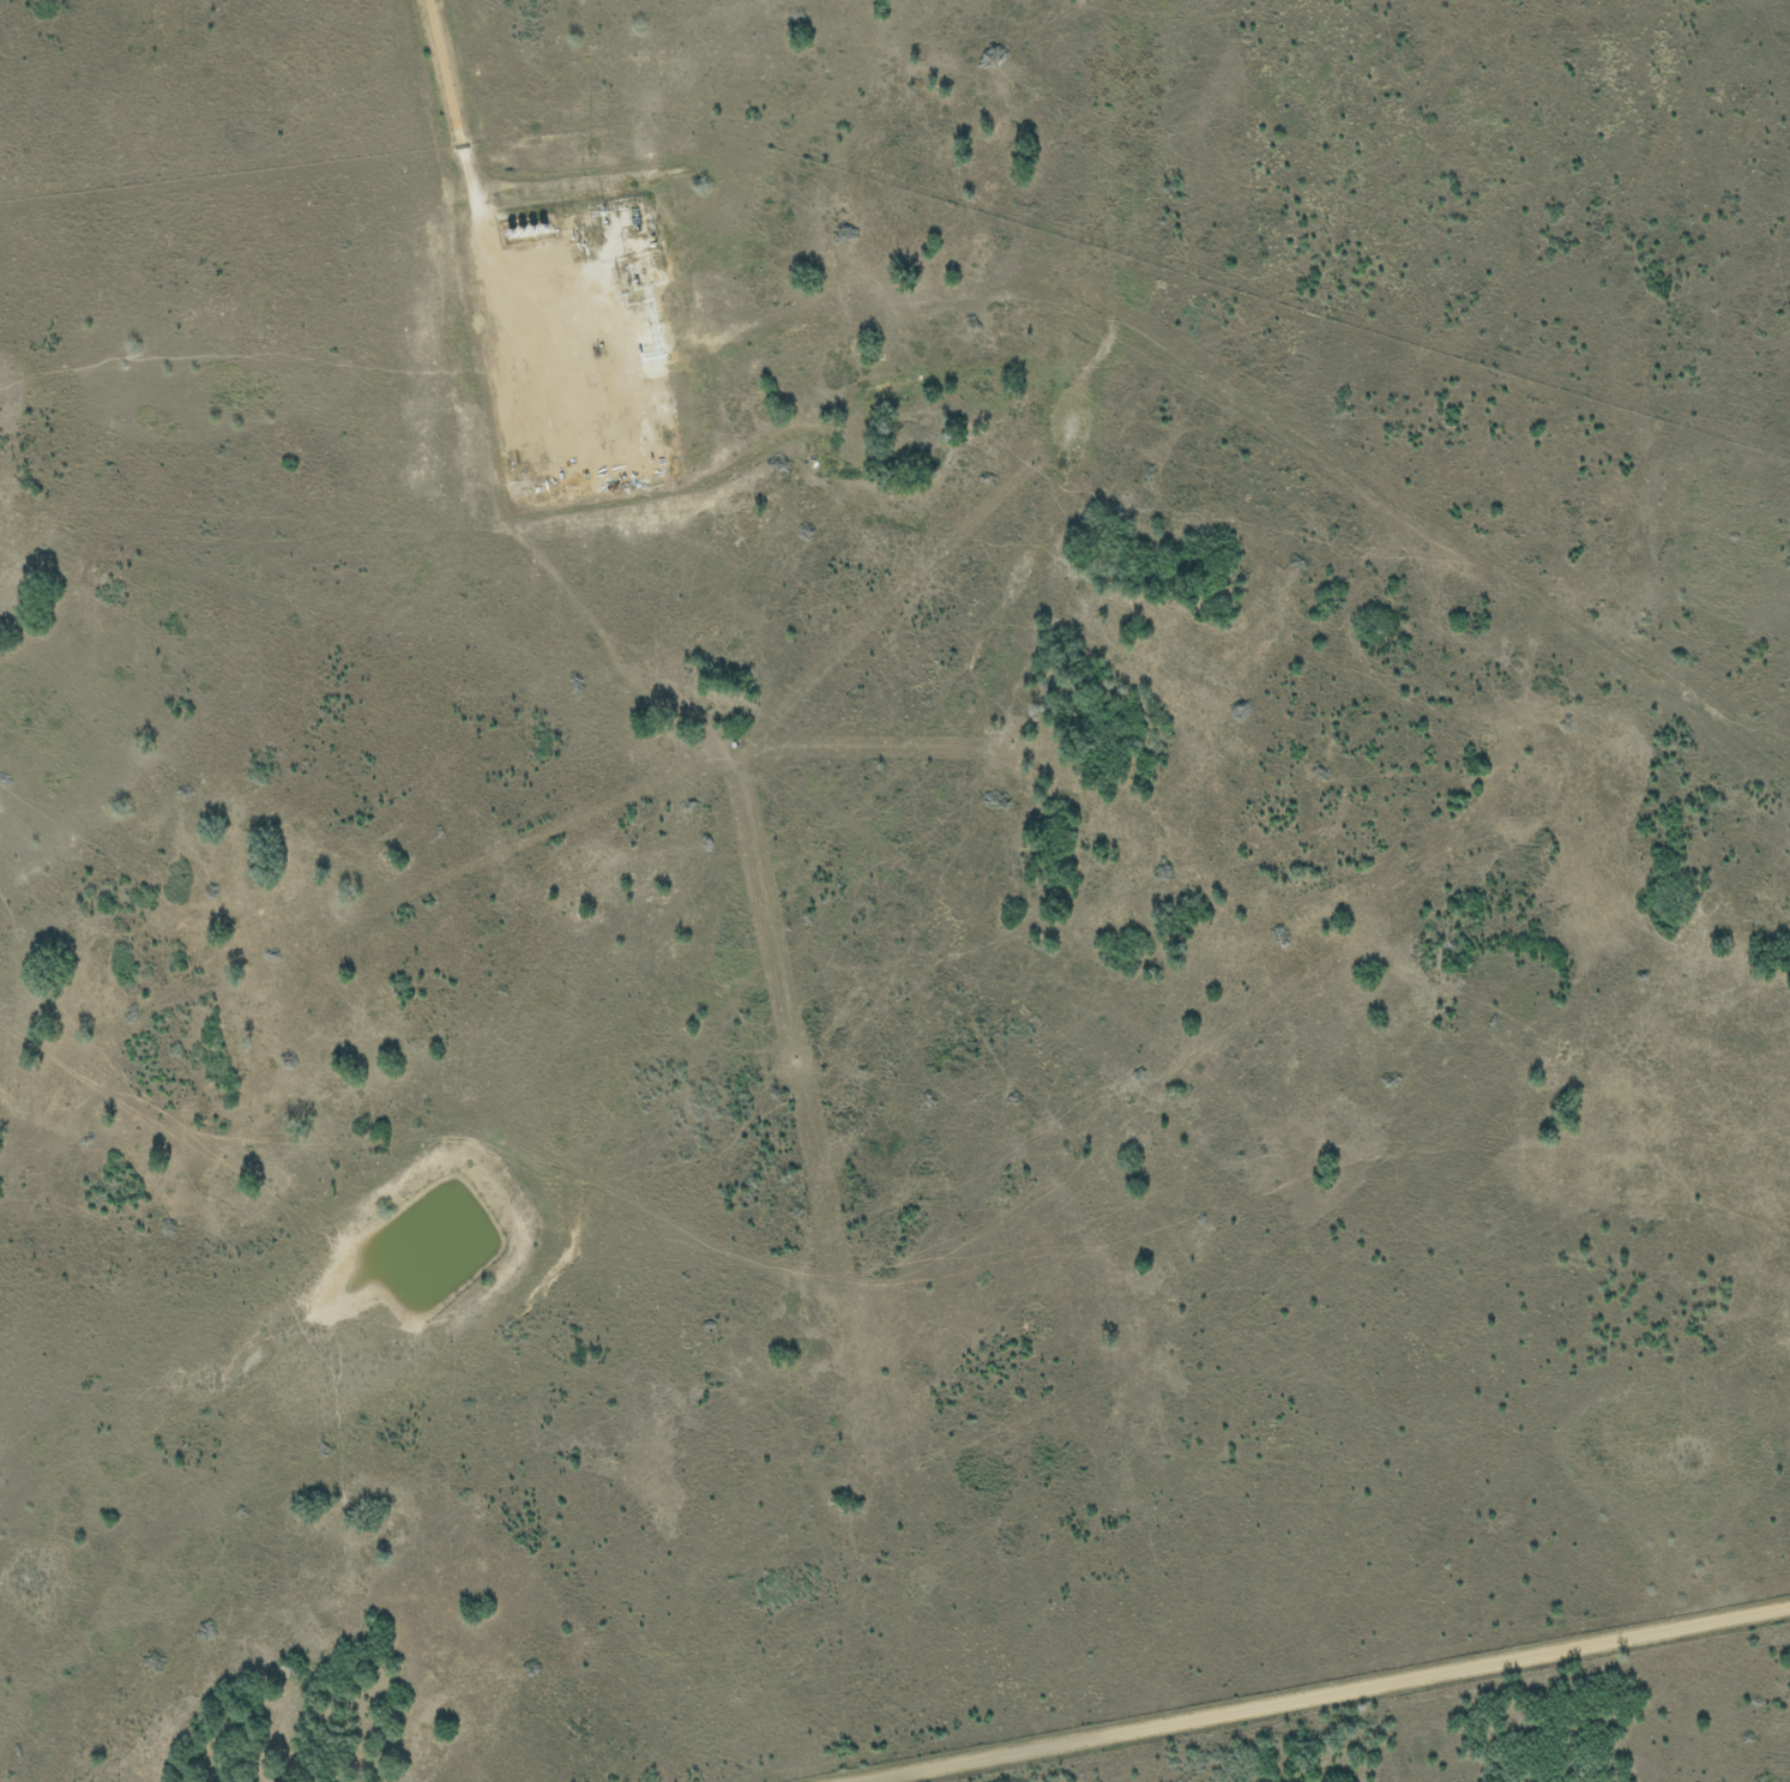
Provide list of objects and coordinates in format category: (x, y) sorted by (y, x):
road: (620, 879)
road: (1316, 1692)

